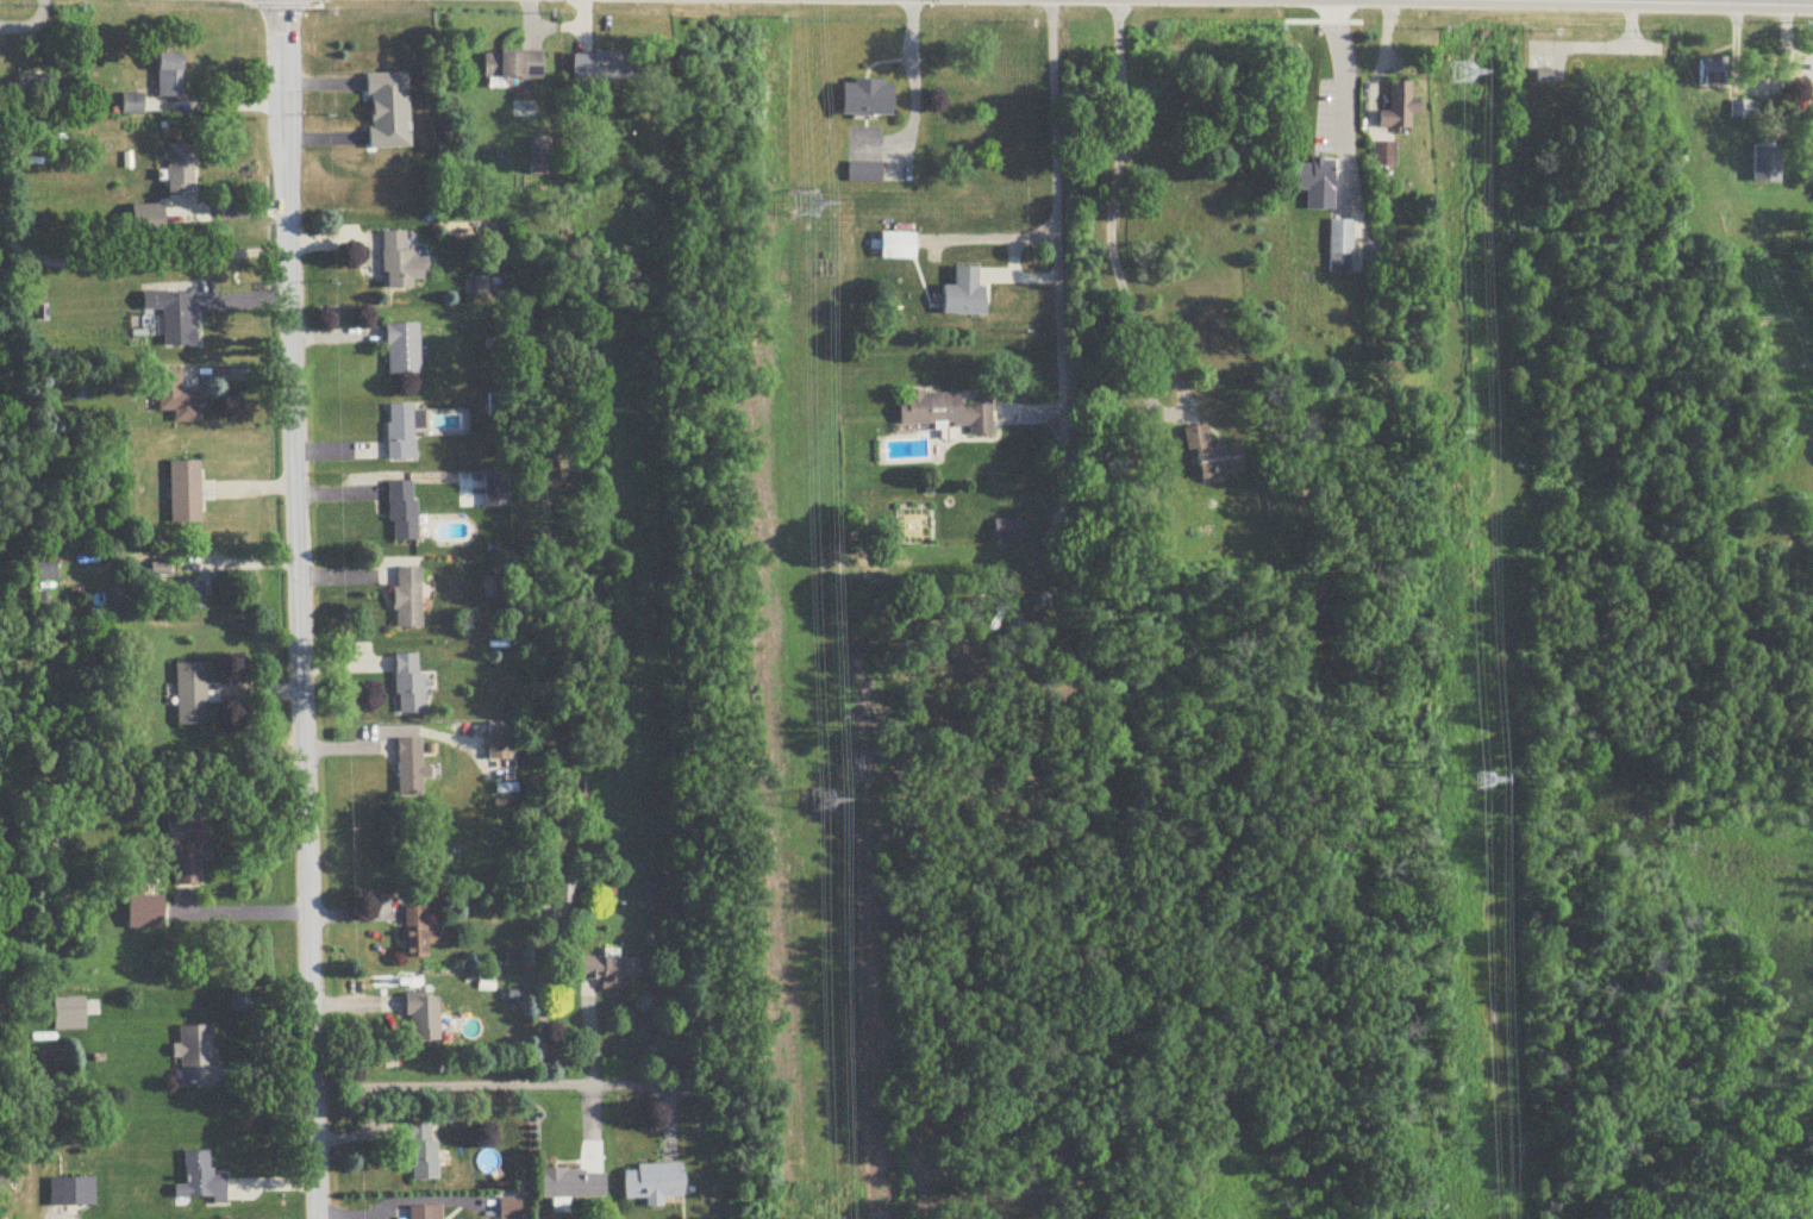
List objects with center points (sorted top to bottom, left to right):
building: (513, 65)
building: (606, 67)
building: (1713, 73)
power tower: (1461, 74)
building: (169, 76)
building: (31, 89)
road: (915, 92)
road: (1346, 94)
building: (868, 99)
building: (132, 105)
road: (215, 107)
building: (1400, 108)
building: (1745, 111)
building: (388, 112)
building: (1384, 156)
road: (1119, 158)
building: (181, 173)
building: (865, 174)
building: (1313, 179)
power tower: (805, 202)
road: (1055, 231)
building: (899, 248)
building: (1339, 248)
building: (400, 263)
building: (965, 295)
building: (174, 317)
building: (404, 350)
building: (177, 398)
building: (949, 412)
road: (1175, 412)
building: (402, 433)
building: (1214, 455)
building: (495, 490)
building: (186, 493)
building: (402, 511)
building: (1008, 529)
road: (215, 564)
building: (45, 570)
building: (190, 595)
building: (408, 598)
road: (298, 609)
building: (408, 683)
building: (192, 694)
building: (499, 745)
building: (410, 767)
power tower: (1487, 776)
power tower: (823, 801)
building: (189, 846)
building: (565, 888)
building: (149, 914)
road: (240, 914)
building: (418, 933)
building: (611, 973)
building: (68, 1014)
building: (424, 1019)
building: (195, 1056)
road: (486, 1086)
building: (423, 1152)
building: (200, 1182)
building: (652, 1183)
building: (571, 1184)
building: (71, 1192)
building: (425, 1213)

